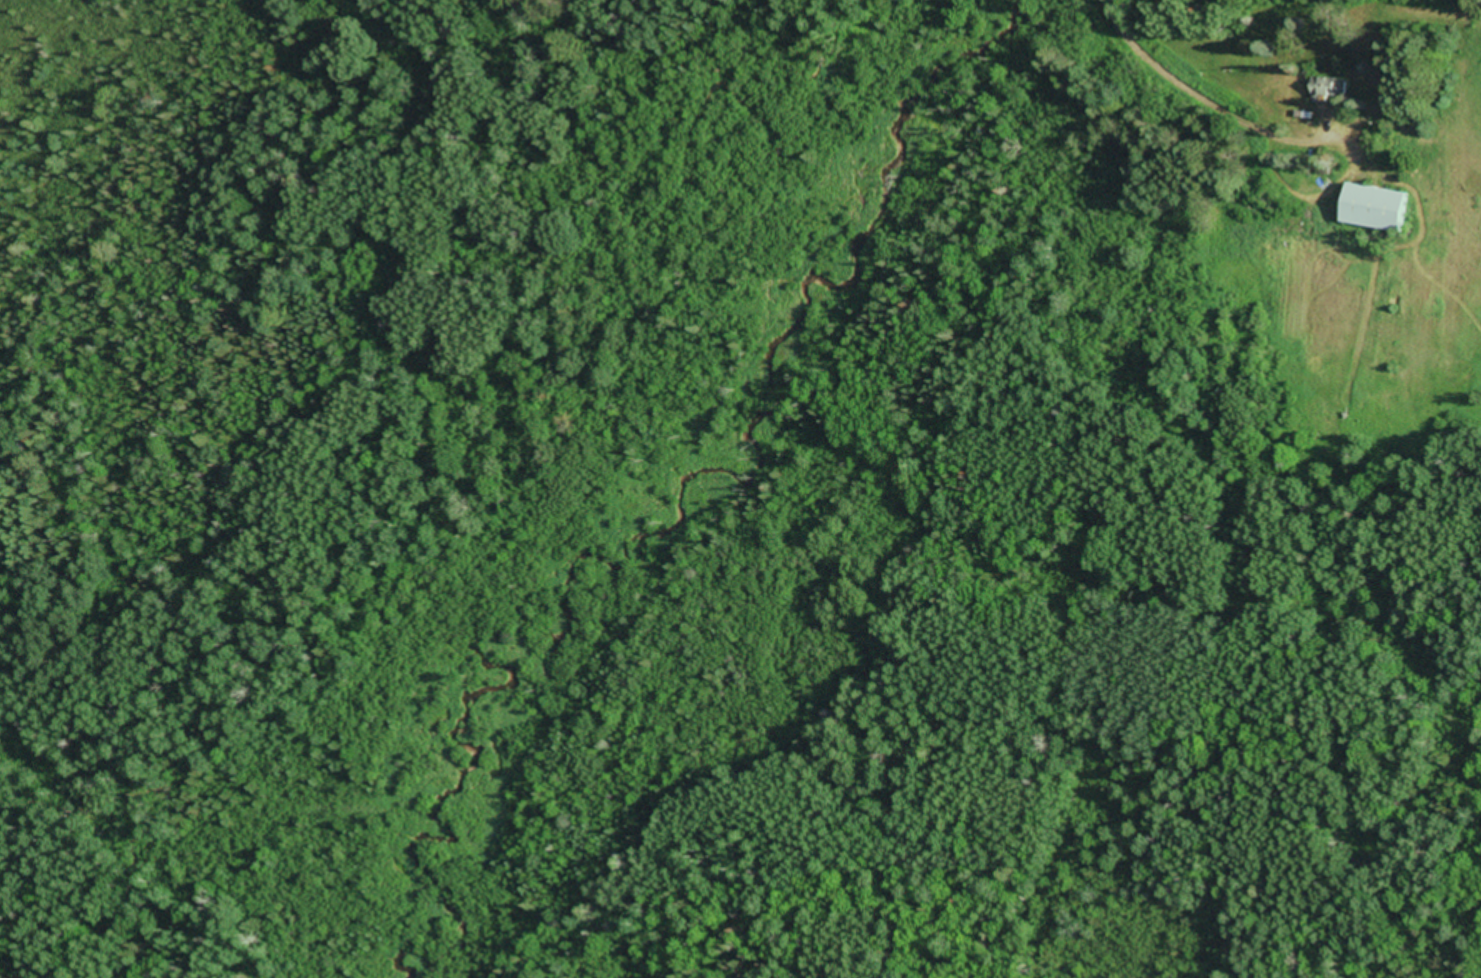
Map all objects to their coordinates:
building: (1327, 90)
building: (1373, 209)

